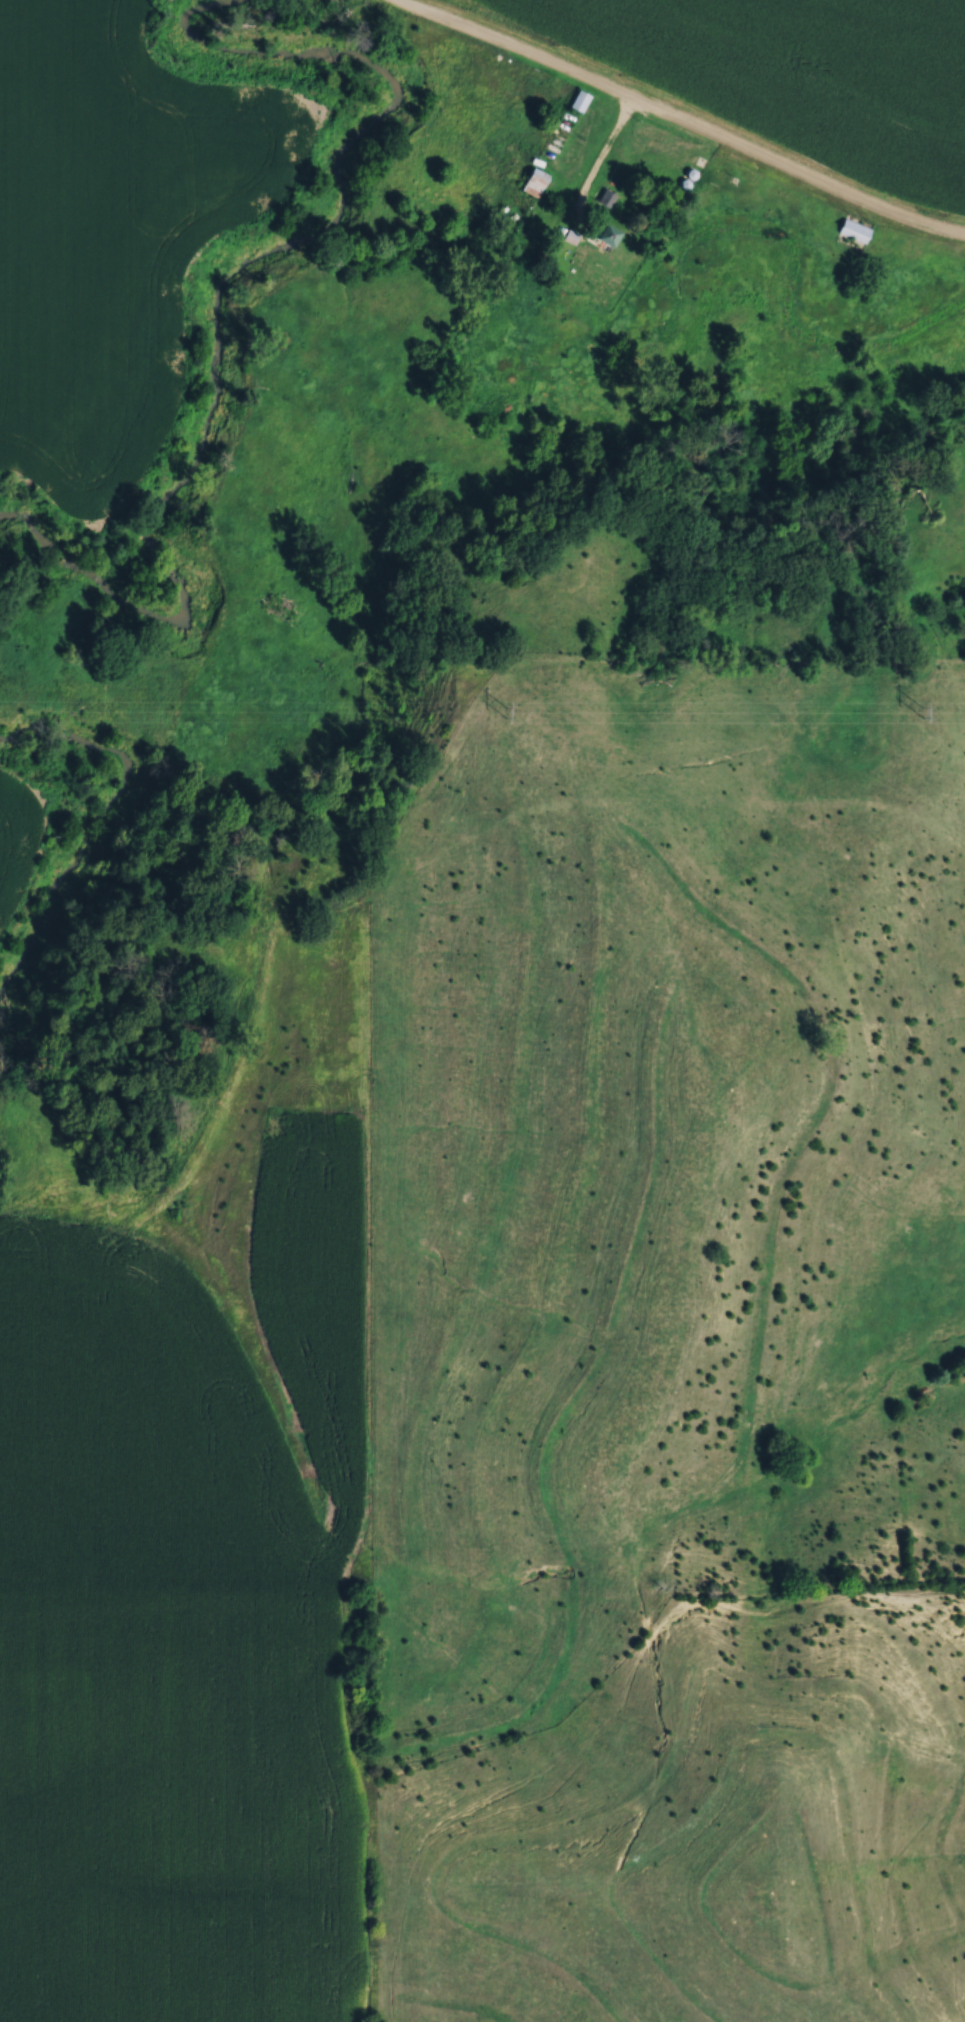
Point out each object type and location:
building: (577, 100)
road: (682, 122)
road: (596, 159)
building: (685, 180)
building: (533, 182)
building: (606, 198)
building: (852, 229)
building: (604, 235)
building: (568, 236)
power tower: (921, 711)
power tower: (506, 712)

